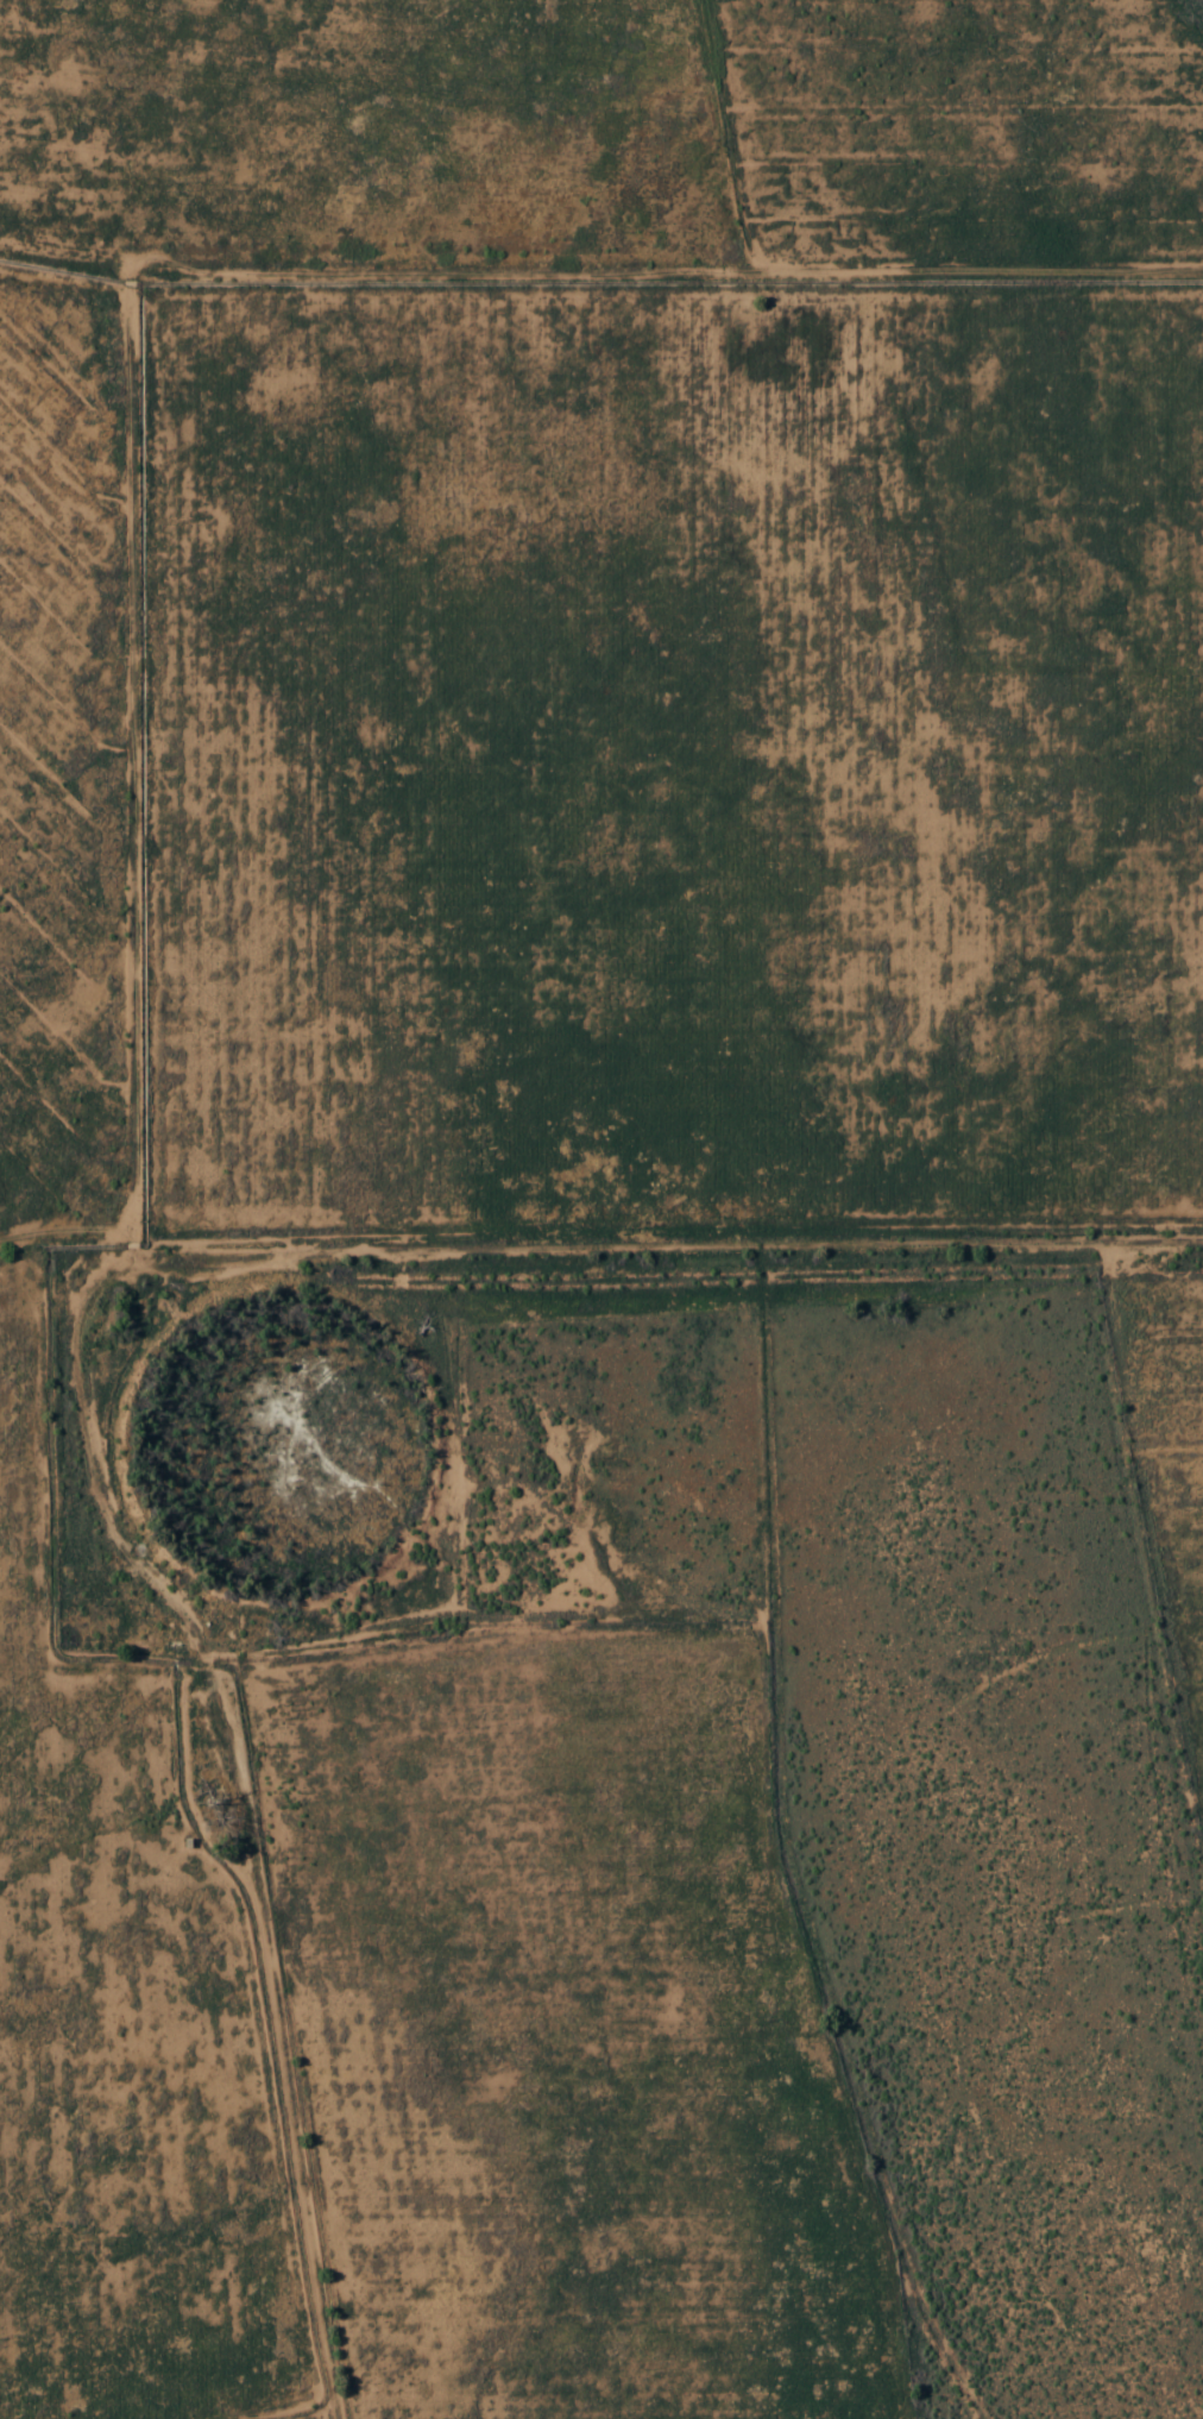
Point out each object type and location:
road: (786, 1238)

